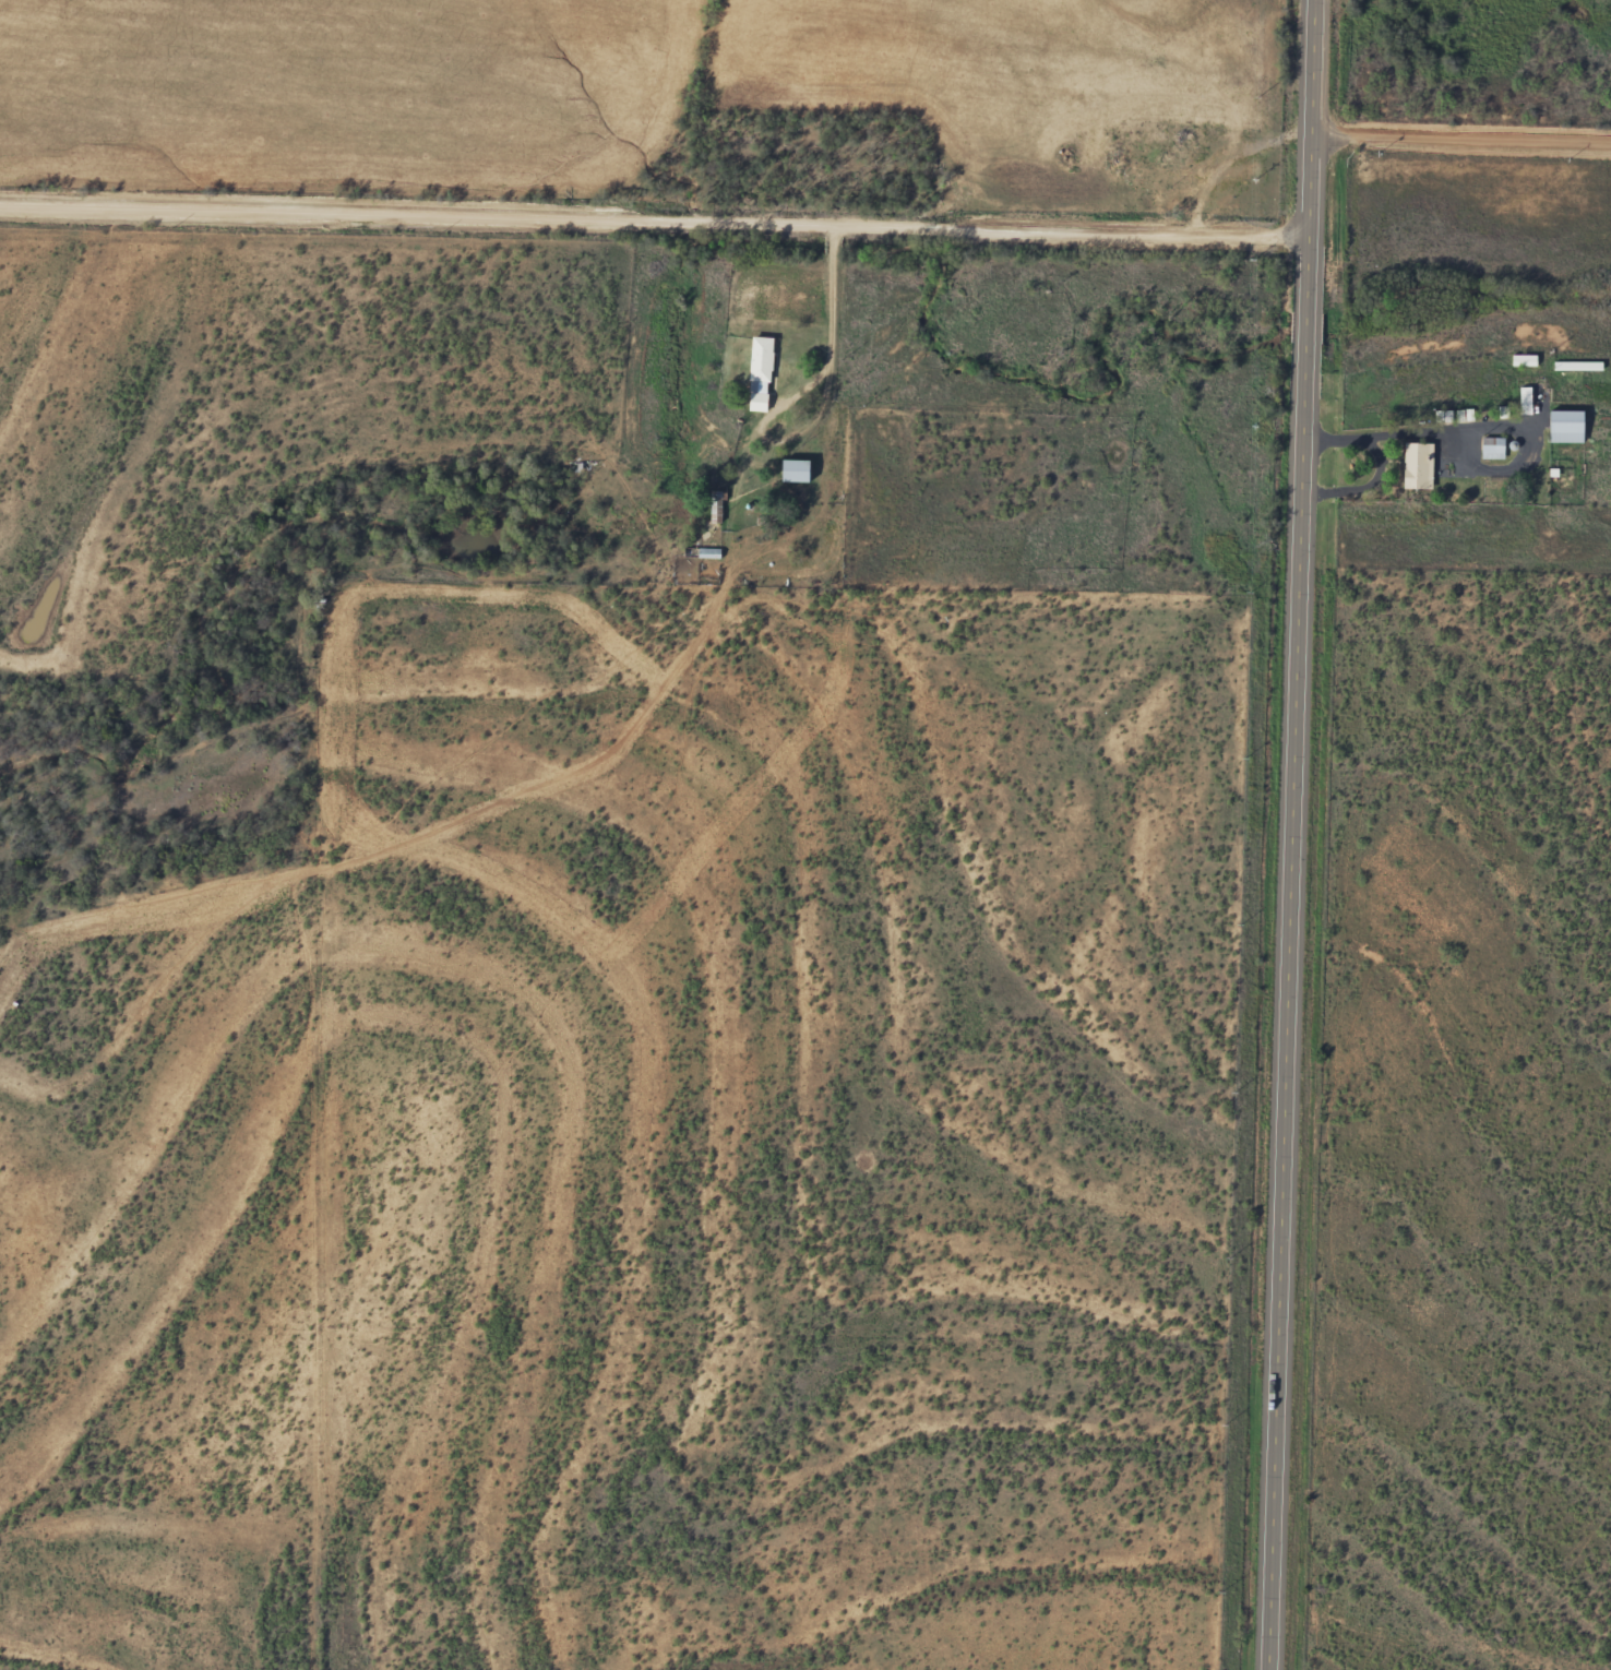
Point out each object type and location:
road: (1465, 134)
building: (1168, 159)
road: (657, 215)
road: (832, 320)
building: (759, 374)
building: (1564, 427)
building: (1492, 449)
building: (1416, 466)
building: (792, 472)
building: (715, 508)
building: (701, 552)
road: (1298, 834)

